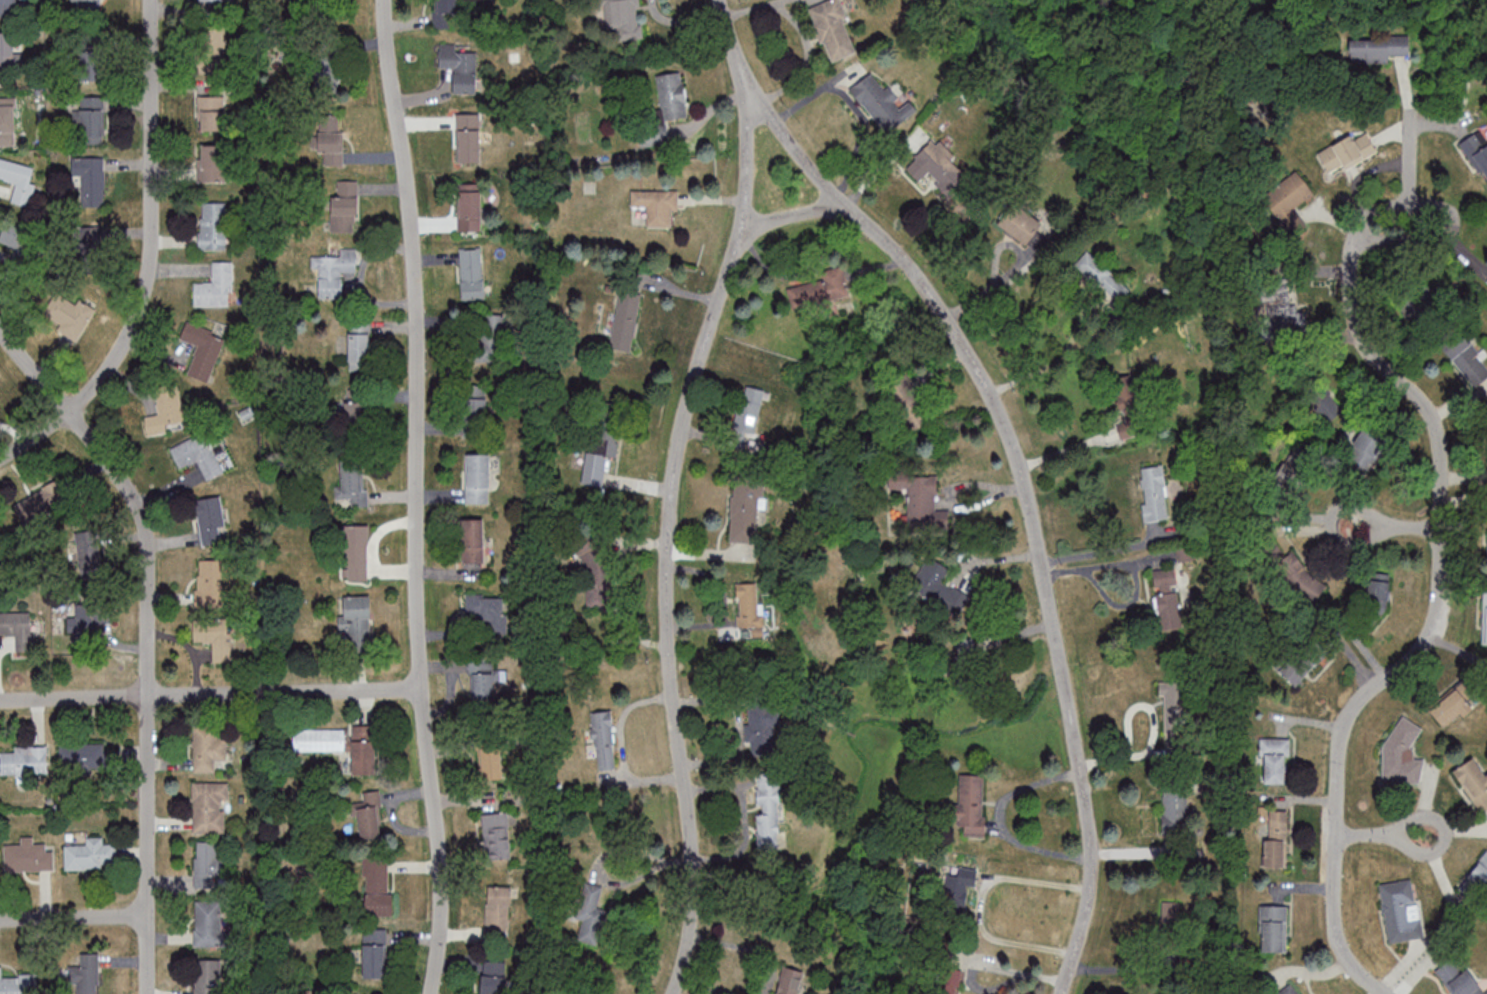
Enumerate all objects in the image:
building: (212, 0)
building: (88, 6)
building: (7, 8)
building: (320, 8)
building: (445, 12)
building: (622, 19)
road: (804, 30)
building: (833, 31)
building: (213, 43)
building: (1376, 48)
park: (1457, 50)
building: (7, 51)
building: (91, 63)
building: (459, 67)
building: (326, 70)
building: (881, 103)
road: (853, 107)
building: (664, 109)
building: (212, 113)
building: (92, 119)
building: (7, 121)
building: (469, 138)
building: (330, 141)
building: (1346, 153)
building: (1477, 153)
building: (213, 162)
road: (1408, 165)
building: (937, 166)
building: (19, 179)
building: (90, 179)
building: (1288, 195)
building: (656, 205)
building: (345, 207)
building: (470, 207)
road: (792, 215)
building: (1020, 224)
building: (213, 225)
building: (13, 237)
building: (94, 244)
road: (149, 260)
building: (472, 273)
building: (334, 274)
building: (1101, 274)
building: (216, 287)
building: (821, 289)
building: (1280, 309)
building: (65, 316)
building: (625, 319)
building: (487, 337)
building: (359, 345)
building: (203, 349)
building: (1464, 356)
road: (1057, 358)
building: (1322, 401)
building: (476, 404)
building: (909, 405)
building: (356, 406)
building: (1128, 406)
building: (165, 410)
building: (748, 415)
building: (1486, 431)
building: (1365, 449)
building: (599, 454)
building: (198, 455)
road: (1015, 455)
building: (478, 478)
building: (353, 484)
building: (1154, 494)
road: (417, 496)
building: (921, 499)
building: (38, 505)
building: (744, 511)
building: (210, 520)
road: (1392, 527)
road: (670, 529)
building: (474, 540)
building: (88, 551)
road: (1100, 551)
building: (355, 552)
building: (590, 556)
building: (1294, 573)
road: (1440, 576)
building: (209, 582)
building: (938, 584)
building: (1376, 598)
building: (1167, 599)
building: (747, 606)
building: (488, 611)
building: (92, 616)
building: (356, 617)
building: (1485, 617)
building: (17, 628)
building: (214, 636)
road: (149, 637)
building: (1303, 660)
building: (483, 680)
road: (210, 694)
building: (1174, 706)
building: (1454, 706)
building: (761, 726)
road: (1154, 729)
building: (319, 739)
building: (603, 740)
building: (207, 748)
building: (363, 749)
road: (622, 749)
building: (1403, 753)
building: (82, 758)
building: (1275, 760)
building: (24, 761)
building: (491, 763)
building: (1474, 783)
building: (970, 804)
building: (209, 807)
building: (1175, 809)
building: (768, 812)
building: (369, 814)
road: (1380, 833)
building: (496, 835)
building: (1276, 838)
building: (91, 855)
building: (28, 857)
building: (208, 864)
building: (377, 886)
building: (957, 890)
road: (982, 900)
building: (591, 909)
building: (498, 910)
building: (1400, 910)
road: (74, 917)
building: (208, 923)
building: (1273, 928)
road: (749, 948)
building: (374, 953)
building: (85, 974)
building: (208, 976)
building: (493, 977)
building: (1458, 978)
building: (790, 981)
building: (949, 981)
building: (18, 984)
road: (705, 986)
building: (1292, 989)

